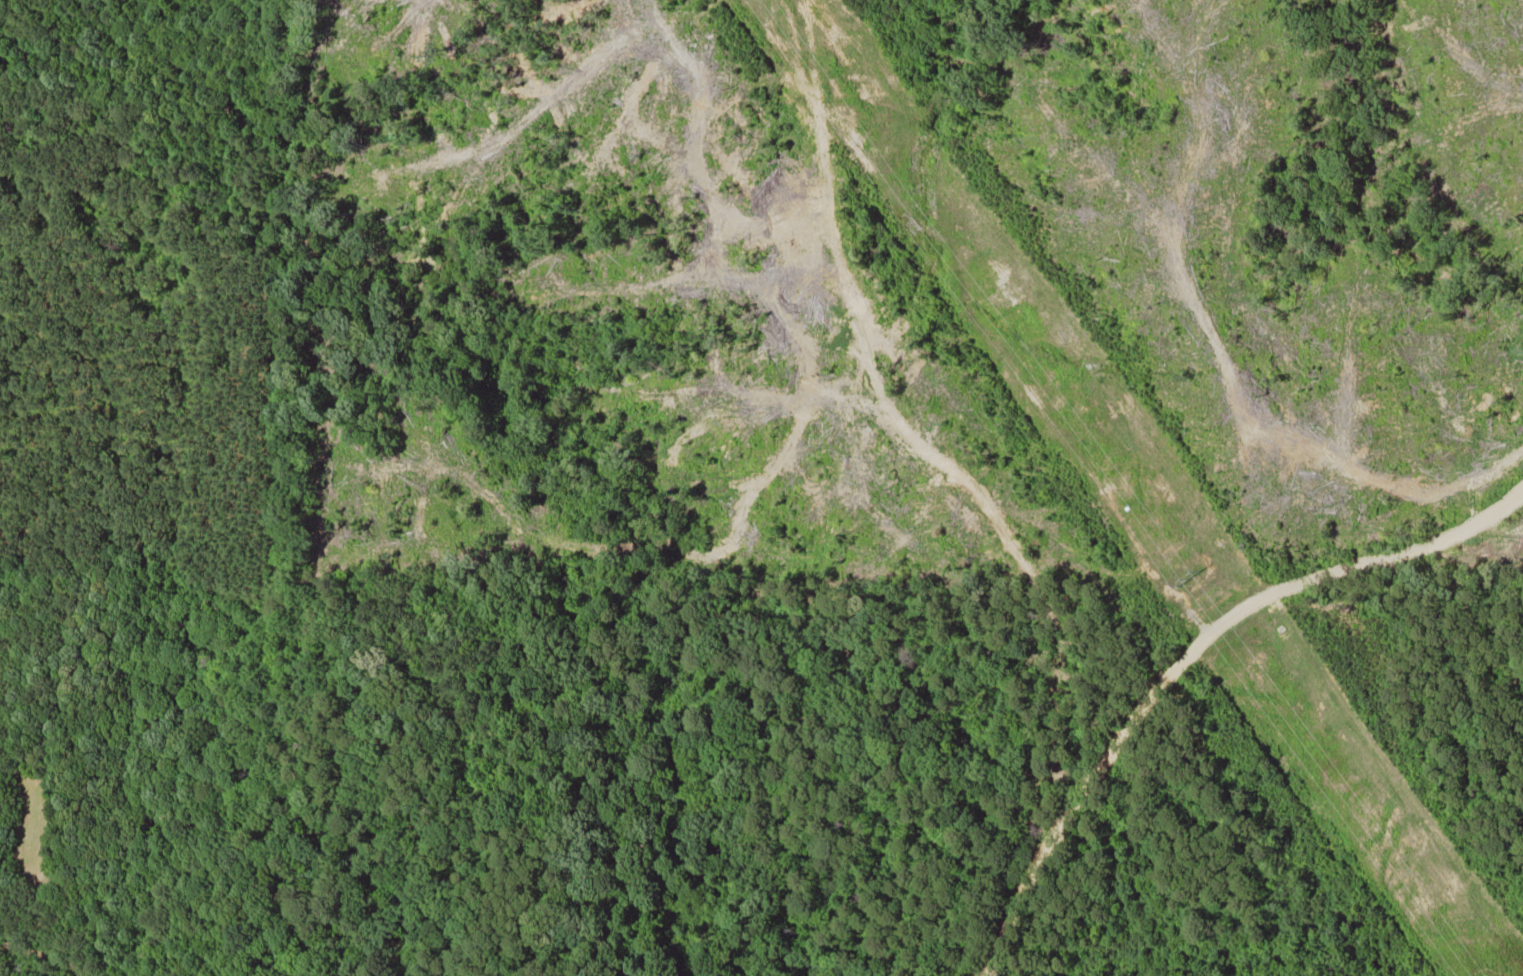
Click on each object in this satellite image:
road: (1218, 686)

